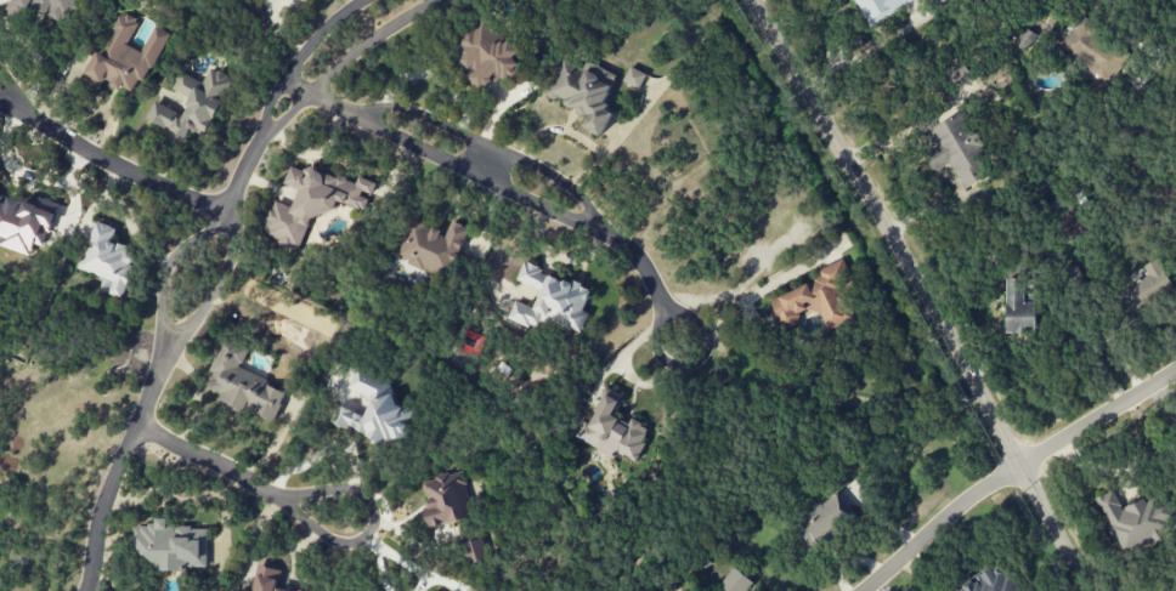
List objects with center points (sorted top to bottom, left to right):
building: (288, 0)
building: (942, 1)
building: (45, 7)
building: (880, 8)
building: (1024, 39)
building: (1093, 52)
building: (490, 56)
building: (125, 58)
road: (303, 61)
road: (346, 62)
building: (959, 74)
building: (634, 78)
building: (582, 92)
road: (15, 93)
road: (312, 96)
building: (193, 103)
road: (488, 147)
building: (957, 152)
road: (485, 161)
road: (112, 164)
road: (475, 174)
road: (248, 177)
building: (313, 201)
building: (24, 222)
building: (431, 248)
building: (107, 260)
road: (645, 266)
road: (166, 272)
building: (1147, 285)
road: (216, 292)
road: (922, 292)
building: (818, 296)
building: (552, 301)
building: (1019, 308)
road: (656, 341)
building: (244, 385)
building: (375, 411)
building: (615, 430)
road: (211, 461)
road: (118, 471)
road: (1014, 473)
building: (446, 499)
building: (822, 521)
building: (1133, 522)
road: (373, 524)
building: (171, 545)
building: (474, 551)
building: (266, 579)
building: (736, 581)
building: (988, 583)
building: (299, 590)

